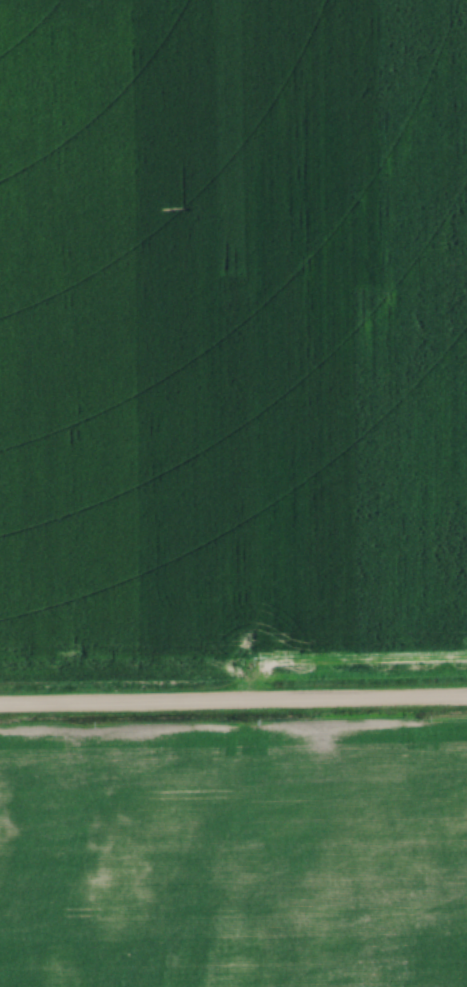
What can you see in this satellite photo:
road: (233, 707)

